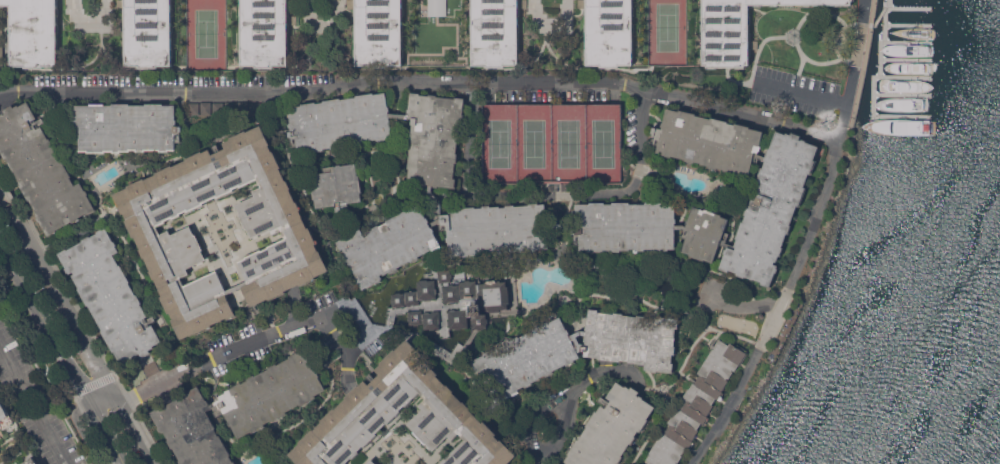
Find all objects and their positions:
pier: (888, 4)
building: (436, 7)
pier: (909, 8)
road: (880, 14)
pier: (907, 24)
building: (734, 29)
building: (33, 32)
building: (148, 32)
building: (264, 32)
building: (379, 32)
building: (495, 32)
building: (609, 32)
road: (794, 35)
road: (838, 42)
pier: (907, 42)
building: (1, 48)
road: (762, 49)
pier: (905, 58)
road: (864, 63)
pier: (904, 76)
road: (402, 80)
pier: (873, 84)
pier: (901, 93)
road: (847, 99)
building: (127, 126)
road: (810, 129)
road: (831, 134)
park: (551, 140)
building: (41, 168)
building: (337, 189)
building: (777, 194)
road: (545, 196)
building: (146, 231)
building: (416, 293)
building: (111, 296)
building: (473, 299)
road: (776, 303)
road: (740, 306)
road: (387, 316)
building: (424, 318)
road: (74, 328)
road: (418, 339)
road: (692, 345)
road: (343, 346)
building: (579, 347)
road: (65, 353)
road: (223, 353)
road: (88, 385)
road: (575, 390)
road: (35, 401)
building: (376, 401)
building: (696, 403)
building: (237, 409)
building: (5, 416)
building: (611, 427)
road: (4, 455)
building: (31, 461)
building: (372, 461)

